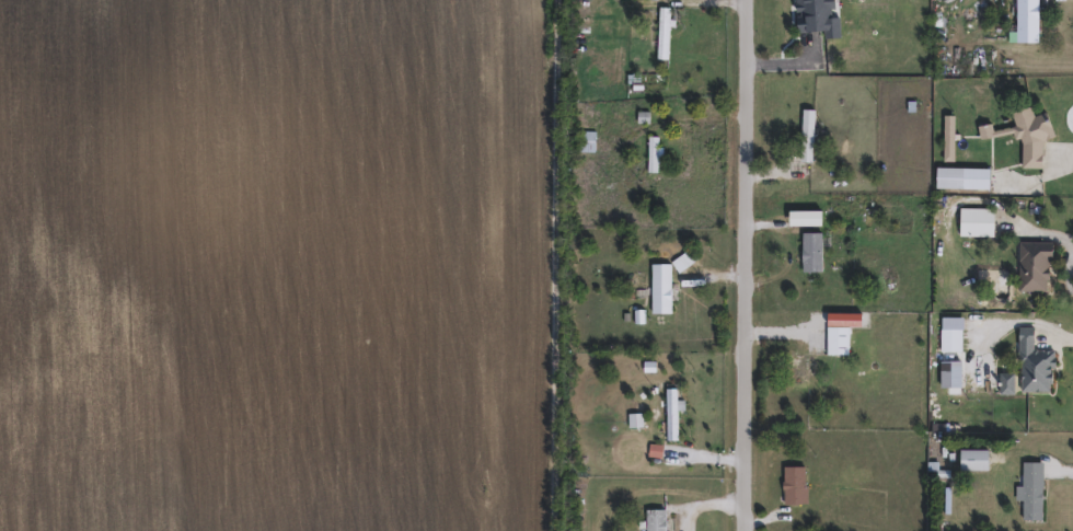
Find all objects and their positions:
building: (824, 16)
building: (1036, 22)
building: (668, 35)
road: (782, 56)
road: (707, 111)
building: (951, 140)
building: (1034, 140)
building: (589, 142)
building: (658, 155)
road: (776, 163)
road: (773, 217)
building: (816, 220)
building: (980, 224)
building: (815, 254)
road: (554, 265)
road: (749, 265)
building: (1039, 268)
road: (717, 270)
building: (665, 290)
road: (778, 323)
road: (1058, 332)
building: (954, 336)
building: (840, 343)
building: (1038, 367)
building: (803, 371)
building: (1009, 385)
building: (674, 416)
road: (709, 461)
building: (979, 462)
road: (1061, 463)
building: (798, 487)
building: (1035, 493)
building: (659, 521)

